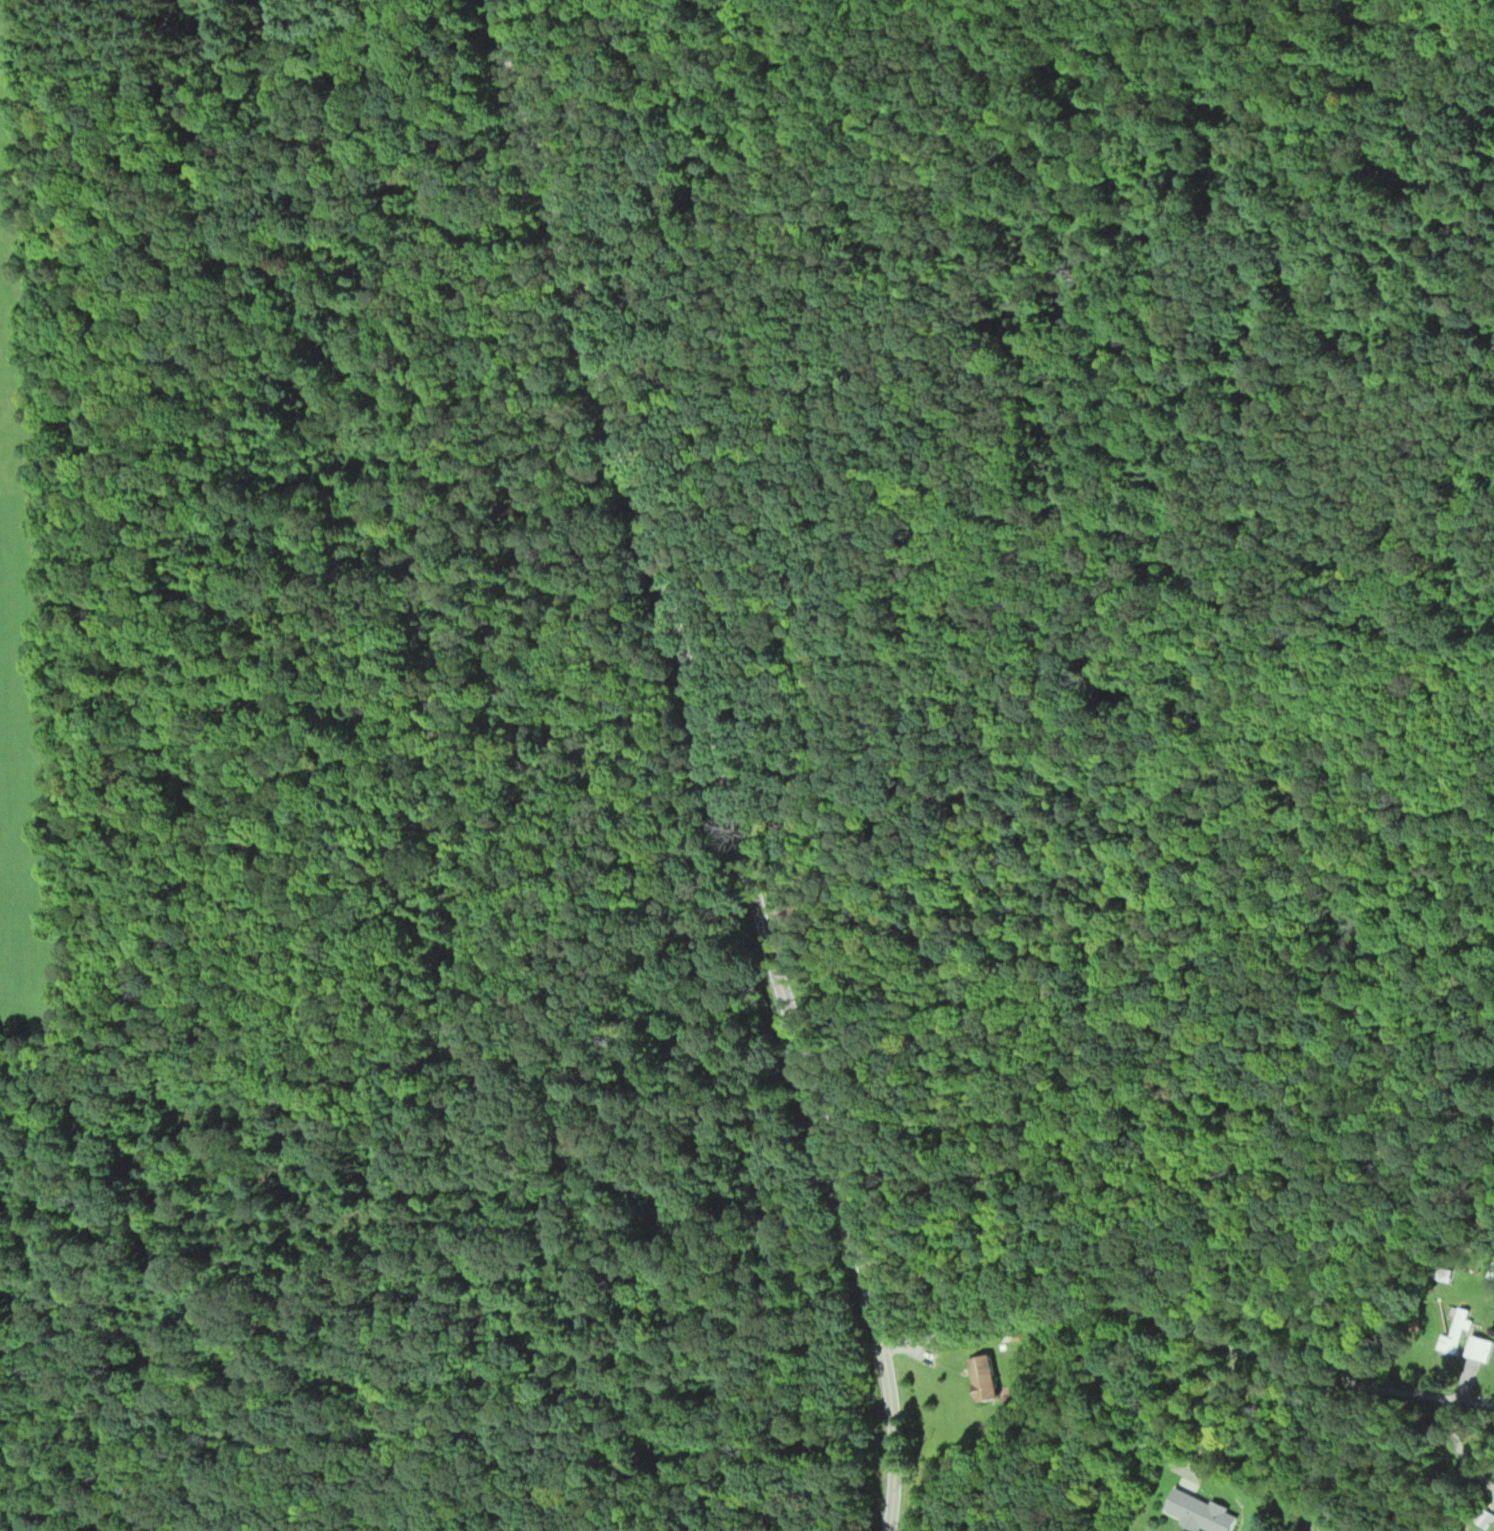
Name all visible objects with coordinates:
road: (709, 763)
road: (1193, 1308)
building: (1458, 1330)
building: (1478, 1348)
building: (985, 1378)
building: (1201, 1511)

